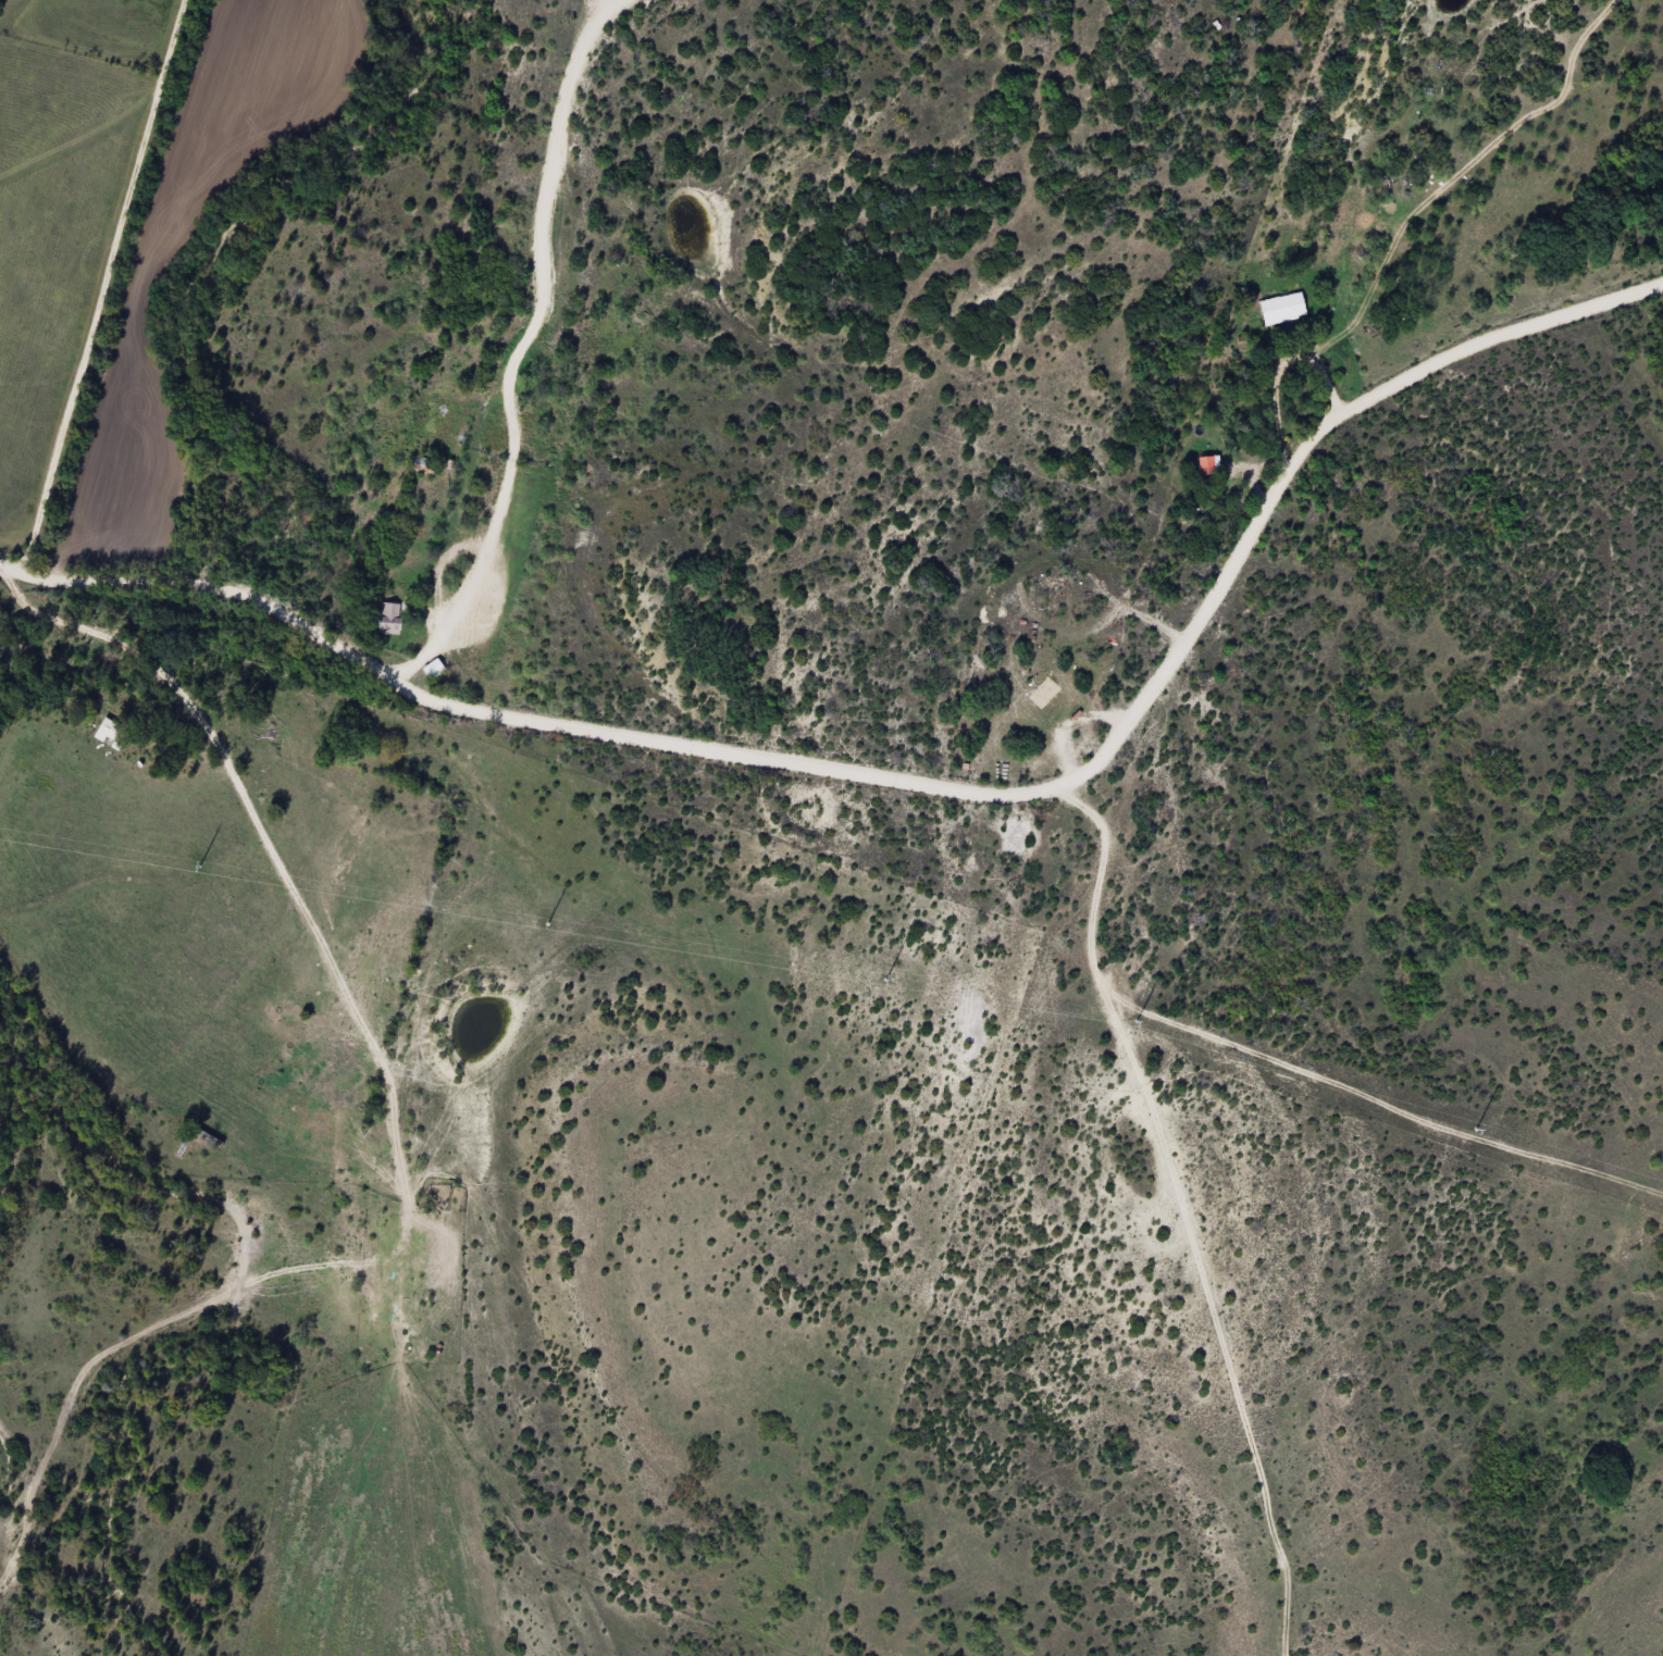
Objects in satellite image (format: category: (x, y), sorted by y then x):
building: (1283, 309)
building: (1211, 465)
building: (390, 618)
building: (435, 669)
building: (1046, 693)
building: (113, 734)
road: (921, 786)
power tower: (199, 866)
power tower: (547, 923)
power tower: (885, 979)
power tower: (1135, 1020)
power tower: (1475, 1129)
road: (1194, 1213)

